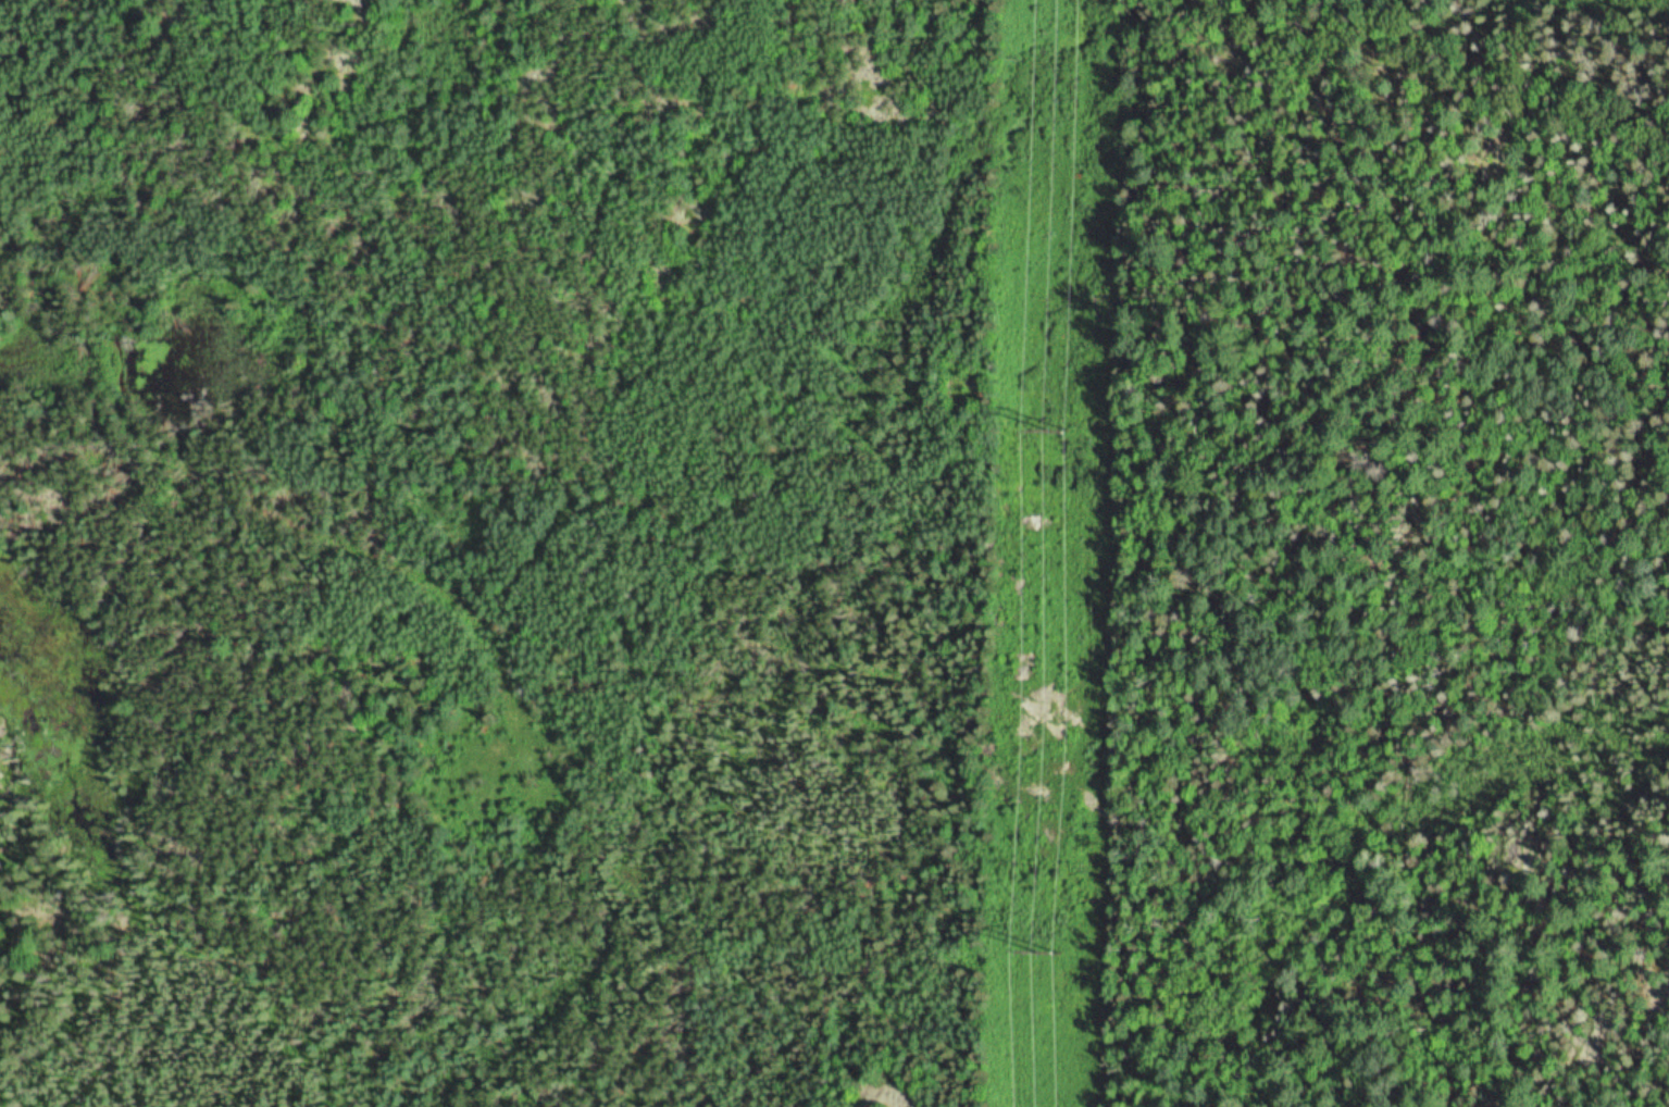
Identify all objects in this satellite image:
power tower: (1063, 426)
power tower: (1055, 948)

